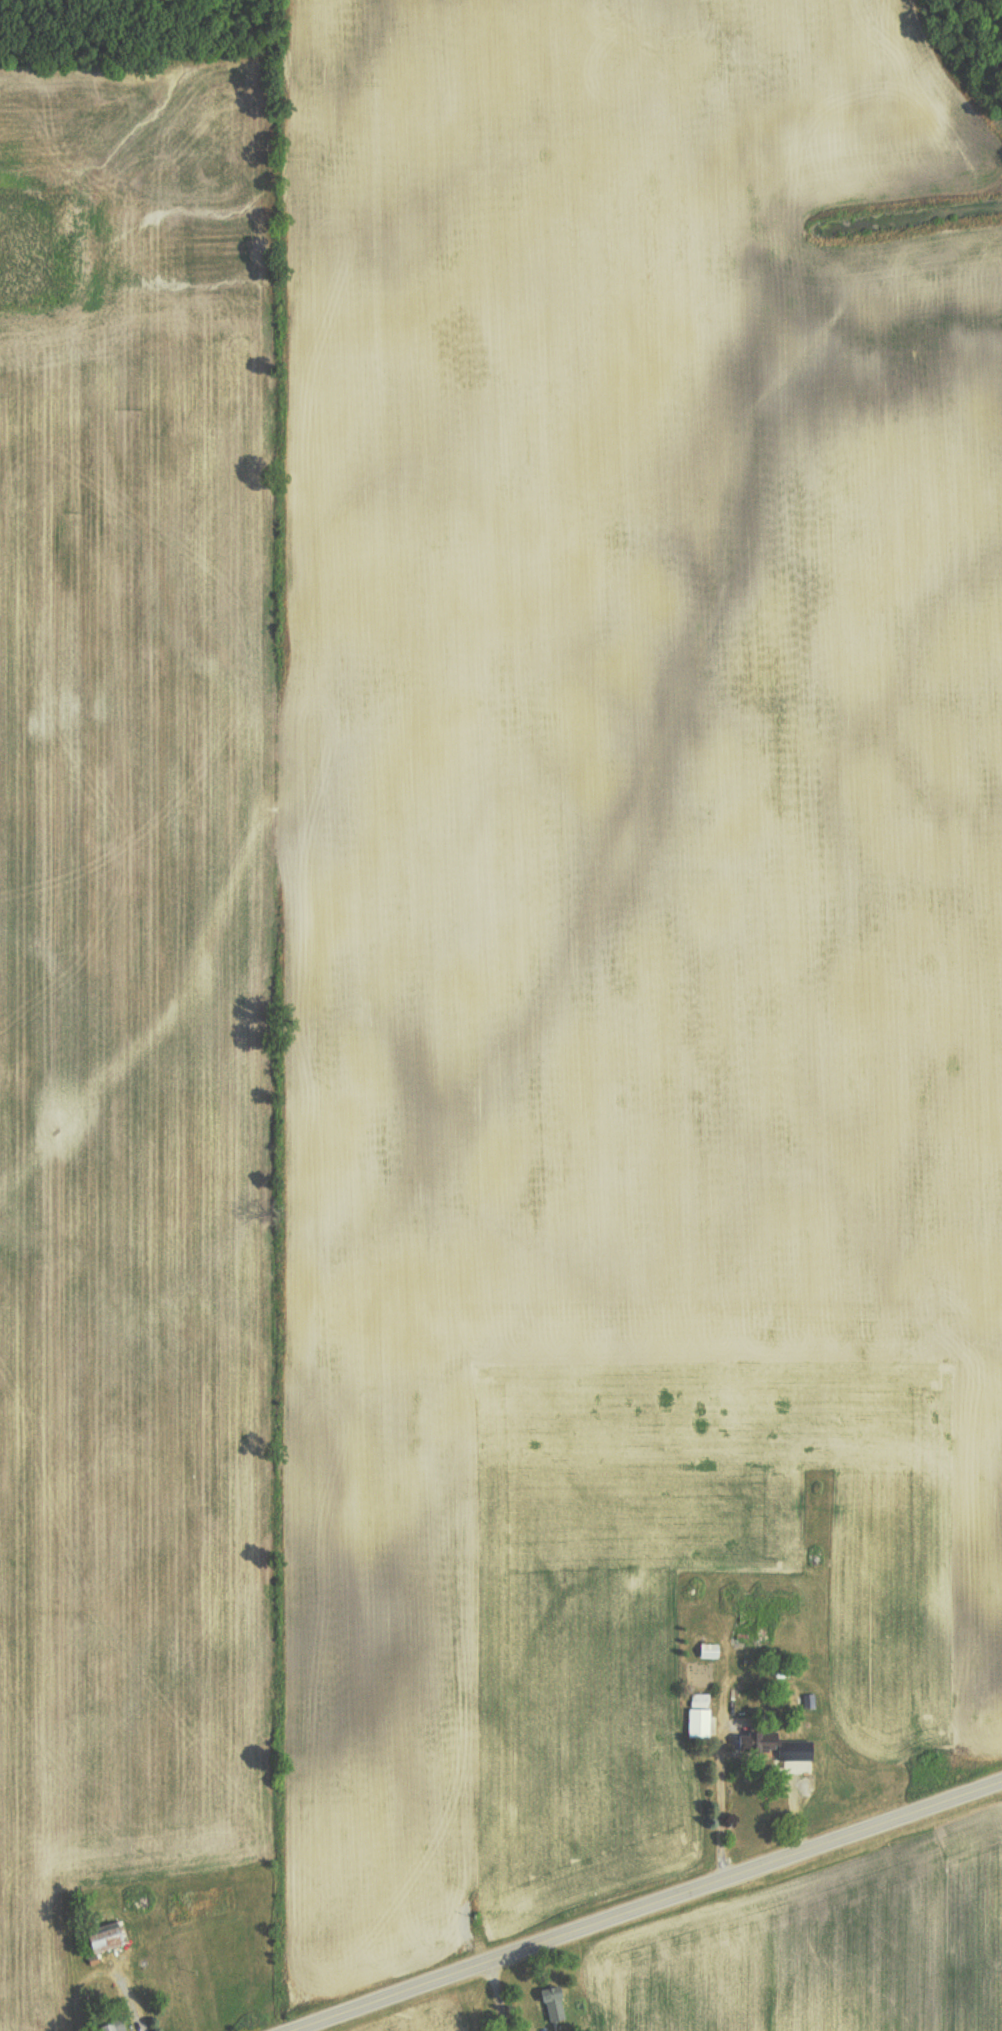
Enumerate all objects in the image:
building: (697, 1714)
building: (794, 1760)
road: (658, 1909)
building: (106, 1936)
crop: (837, 1957)
building: (552, 2001)
building: (112, 2025)
crop: (463, 2029)

